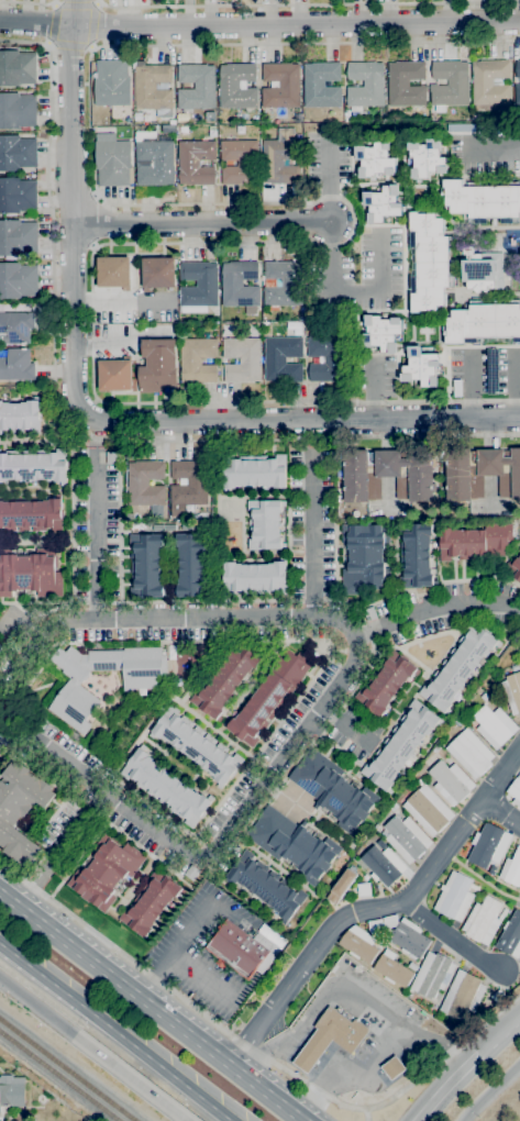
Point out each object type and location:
road: (27, 3)
road: (297, 3)
road: (93, 24)
road: (259, 25)
road: (68, 45)
building: (16, 68)
building: (518, 68)
building: (112, 84)
building: (365, 84)
building: (406, 84)
building: (450, 84)
building: (280, 85)
building: (321, 85)
building: (490, 85)
building: (237, 86)
building: (153, 87)
building: (197, 87)
building: (517, 95)
building: (16, 110)
building: (104, 134)
road: (494, 148)
building: (16, 153)
building: (427, 158)
building: (375, 159)
building: (113, 162)
building: (240, 162)
building: (280, 162)
building: (154, 163)
building: (196, 163)
road: (328, 179)
building: (18, 196)
building: (482, 200)
building: (383, 203)
road: (354, 222)
road: (201, 223)
building: (18, 238)
building: (430, 260)
building: (483, 269)
building: (114, 273)
building: (158, 273)
building: (18, 280)
building: (284, 284)
building: (199, 285)
building: (240, 285)
road: (352, 291)
building: (191, 309)
building: (483, 322)
building: (15, 328)
building: (381, 332)
building: (283, 358)
building: (328, 358)
building: (198, 359)
building: (242, 359)
building: (157, 364)
building: (16, 365)
building: (421, 367)
building: (114, 374)
building: (21, 415)
road: (92, 421)
road: (77, 431)
road: (96, 444)
building: (111, 458)
building: (34, 465)
building: (254, 471)
building: (480, 473)
building: (387, 474)
building: (188, 485)
building: (146, 486)
building: (31, 515)
building: (202, 515)
building: (264, 524)
building: (169, 526)
building: (158, 528)
road: (310, 533)
building: (475, 542)
road: (96, 543)
building: (416, 555)
building: (364, 557)
building: (146, 565)
building: (192, 565)
building: (515, 566)
building: (30, 571)
building: (255, 577)
road: (434, 610)
building: (369, 613)
road: (139, 618)
building: (0, 646)
building: (457, 667)
building: (224, 680)
building: (385, 684)
building: (74, 690)
building: (512, 691)
building: (269, 697)
building: (457, 721)
road: (2, 725)
road: (345, 725)
building: (494, 726)
building: (197, 745)
building: (400, 745)
building: (435, 748)
building: (469, 753)
building: (26, 754)
building: (419, 781)
building: (451, 781)
building: (166, 787)
building: (332, 790)
building: (515, 790)
road: (283, 795)
building: (20, 808)
building: (428, 810)
road: (500, 811)
road: (229, 831)
building: (406, 837)
building: (292, 844)
building: (489, 845)
road: (49, 862)
building: (384, 865)
building: (511, 869)
building: (106, 872)
building: (190, 873)
building: (365, 877)
building: (266, 885)
building: (341, 886)
building: (473, 887)
building: (363, 889)
building: (454, 897)
building: (150, 903)
road: (375, 907)
building: (483, 920)
building: (375, 925)
building: (406, 936)
building: (510, 936)
road: (449, 940)
building: (358, 944)
building: (243, 948)
road: (176, 950)
building: (412, 966)
building: (392, 969)
building: (432, 975)
road: (204, 978)
road: (348, 983)
building: (462, 995)
road: (177, 996)
road: (153, 1005)
road: (38, 1007)
road: (114, 1032)
road: (501, 1036)
building: (330, 1037)
gas station: (330, 1037)
road: (287, 1050)
road: (444, 1056)
road: (305, 1061)
building: (392, 1067)
railway: (66, 1070)
road: (355, 1070)
road: (320, 1074)
railway: (59, 1076)
road: (133, 1079)
road: (449, 1087)
building: (15, 1091)
road: (489, 1091)
building: (0, 1113)
road: (365, 1116)

